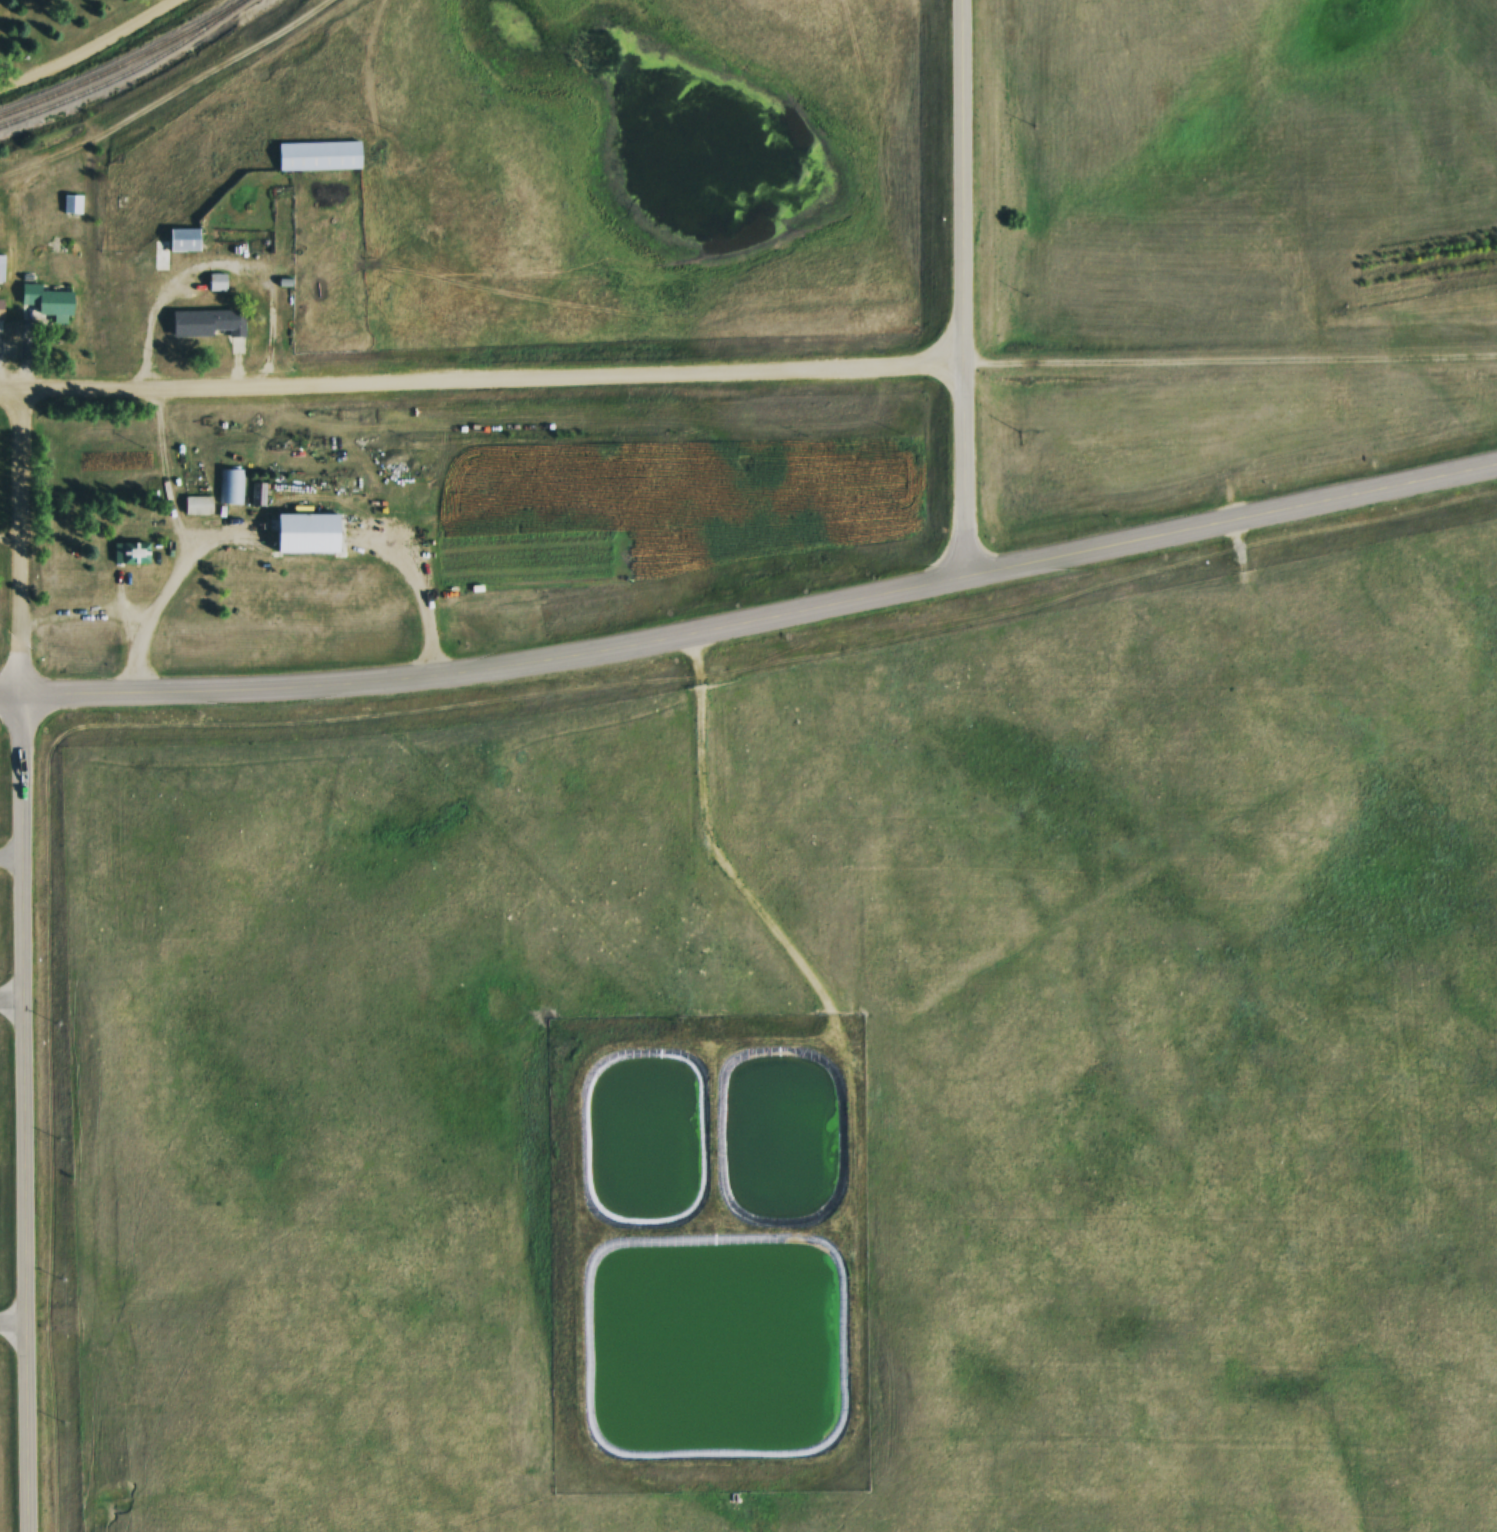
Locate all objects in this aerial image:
road: (101, 53)
railway: (123, 62)
railway: (127, 70)
road: (174, 101)
building: (322, 156)
road: (971, 184)
building: (72, 204)
building: (173, 245)
building: (142, 262)
building: (0, 269)
building: (215, 281)
building: (46, 300)
building: (0, 312)
building: (201, 323)
road: (1234, 365)
road: (486, 383)
road: (972, 474)
building: (231, 486)
building: (257, 493)
building: (197, 505)
building: (303, 532)
building: (132, 552)
road: (753, 625)
road: (32, 860)
road: (16, 1007)
road: (34, 1430)

